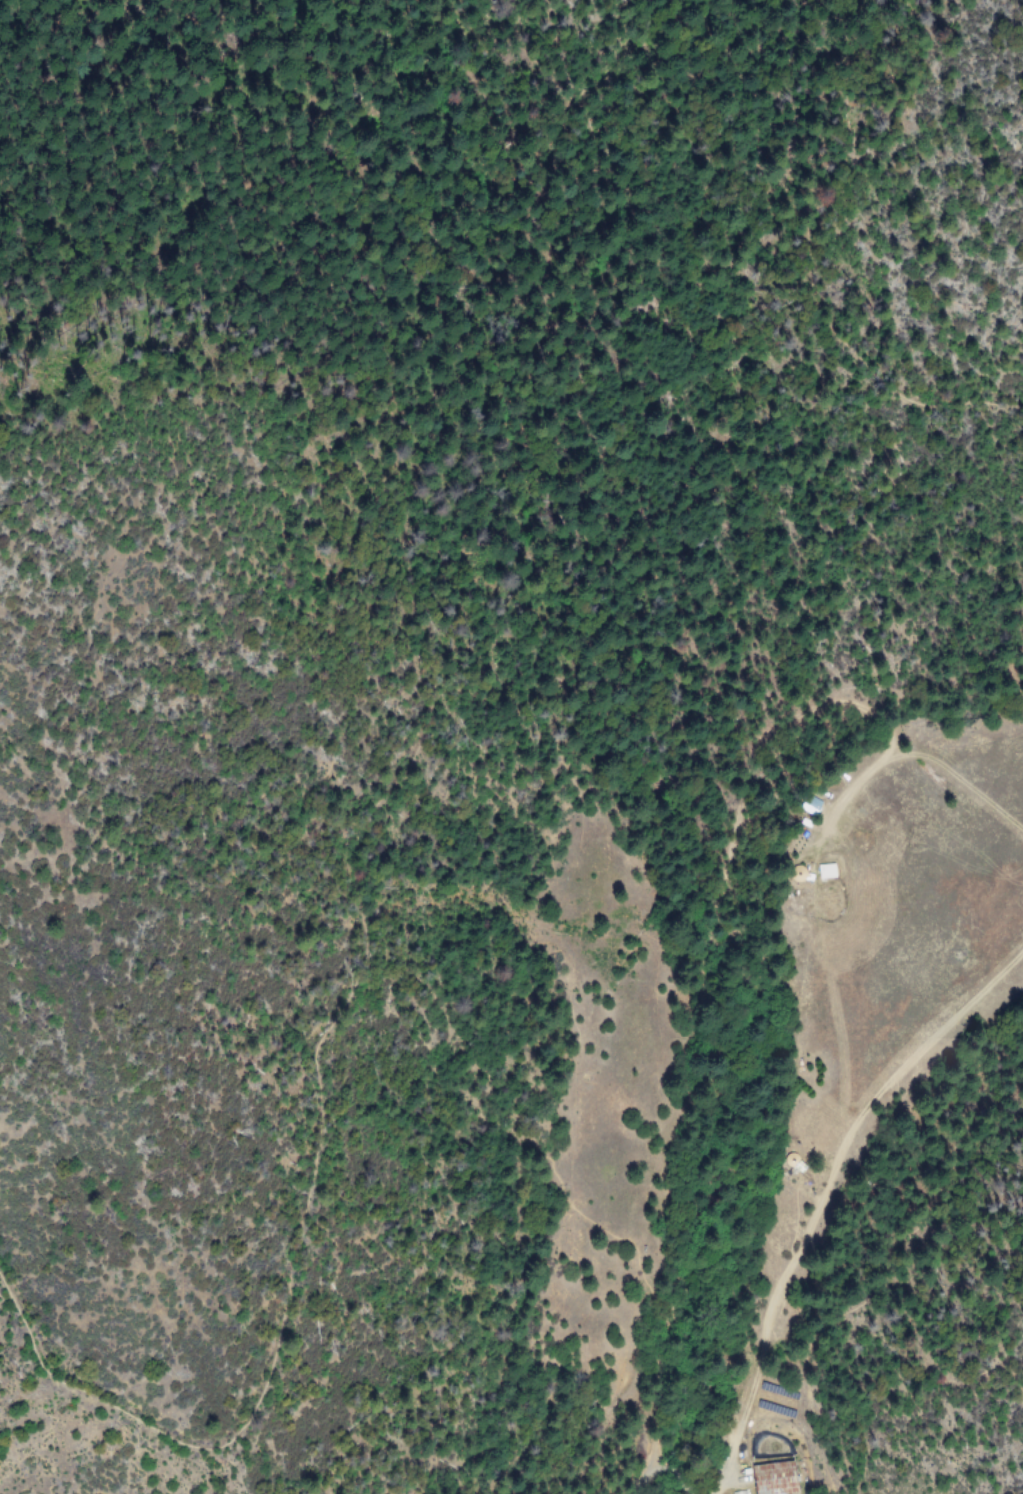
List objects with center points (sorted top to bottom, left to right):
road: (781, 89)
road: (744, 164)
road: (356, 867)
building: (825, 872)
building: (773, 1479)
building: (740, 1493)

